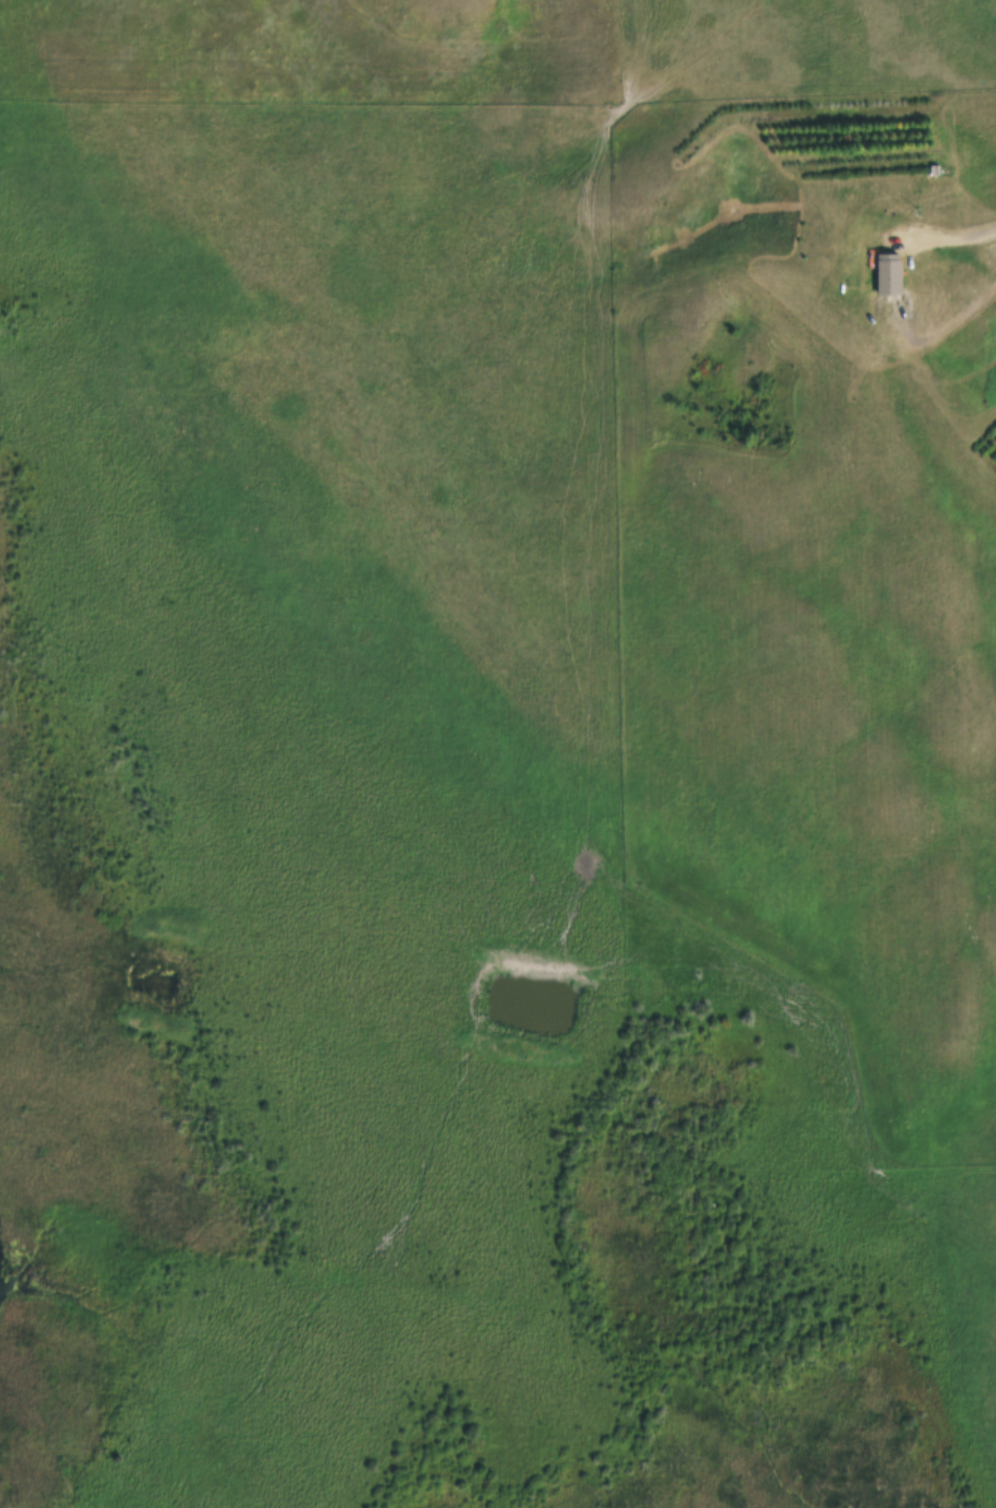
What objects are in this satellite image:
road: (952, 239)
building: (881, 276)
building: (837, 289)

